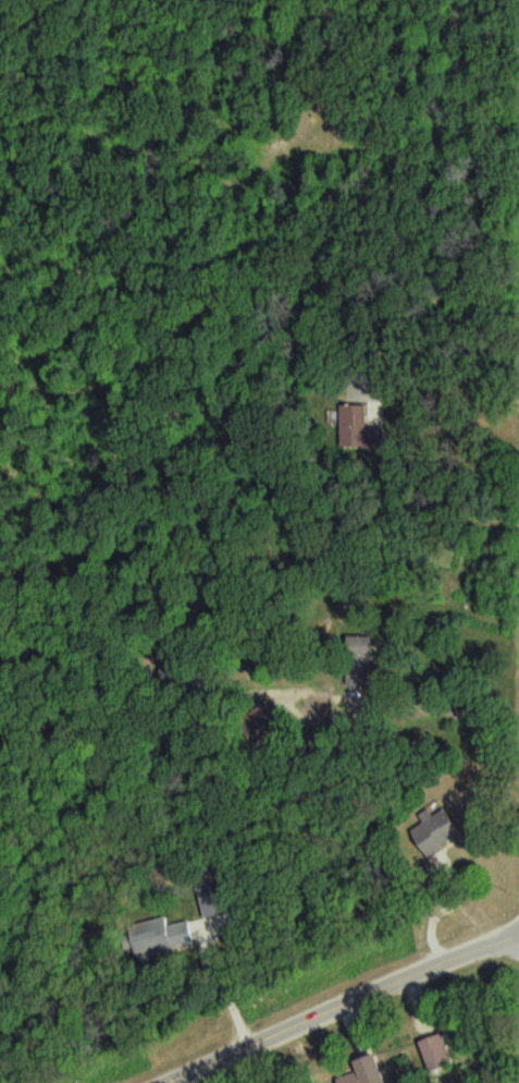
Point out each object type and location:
road: (403, 45)
building: (356, 426)
building: (438, 832)
building: (164, 935)
road: (351, 1006)
building: (440, 1051)
building: (369, 1070)

